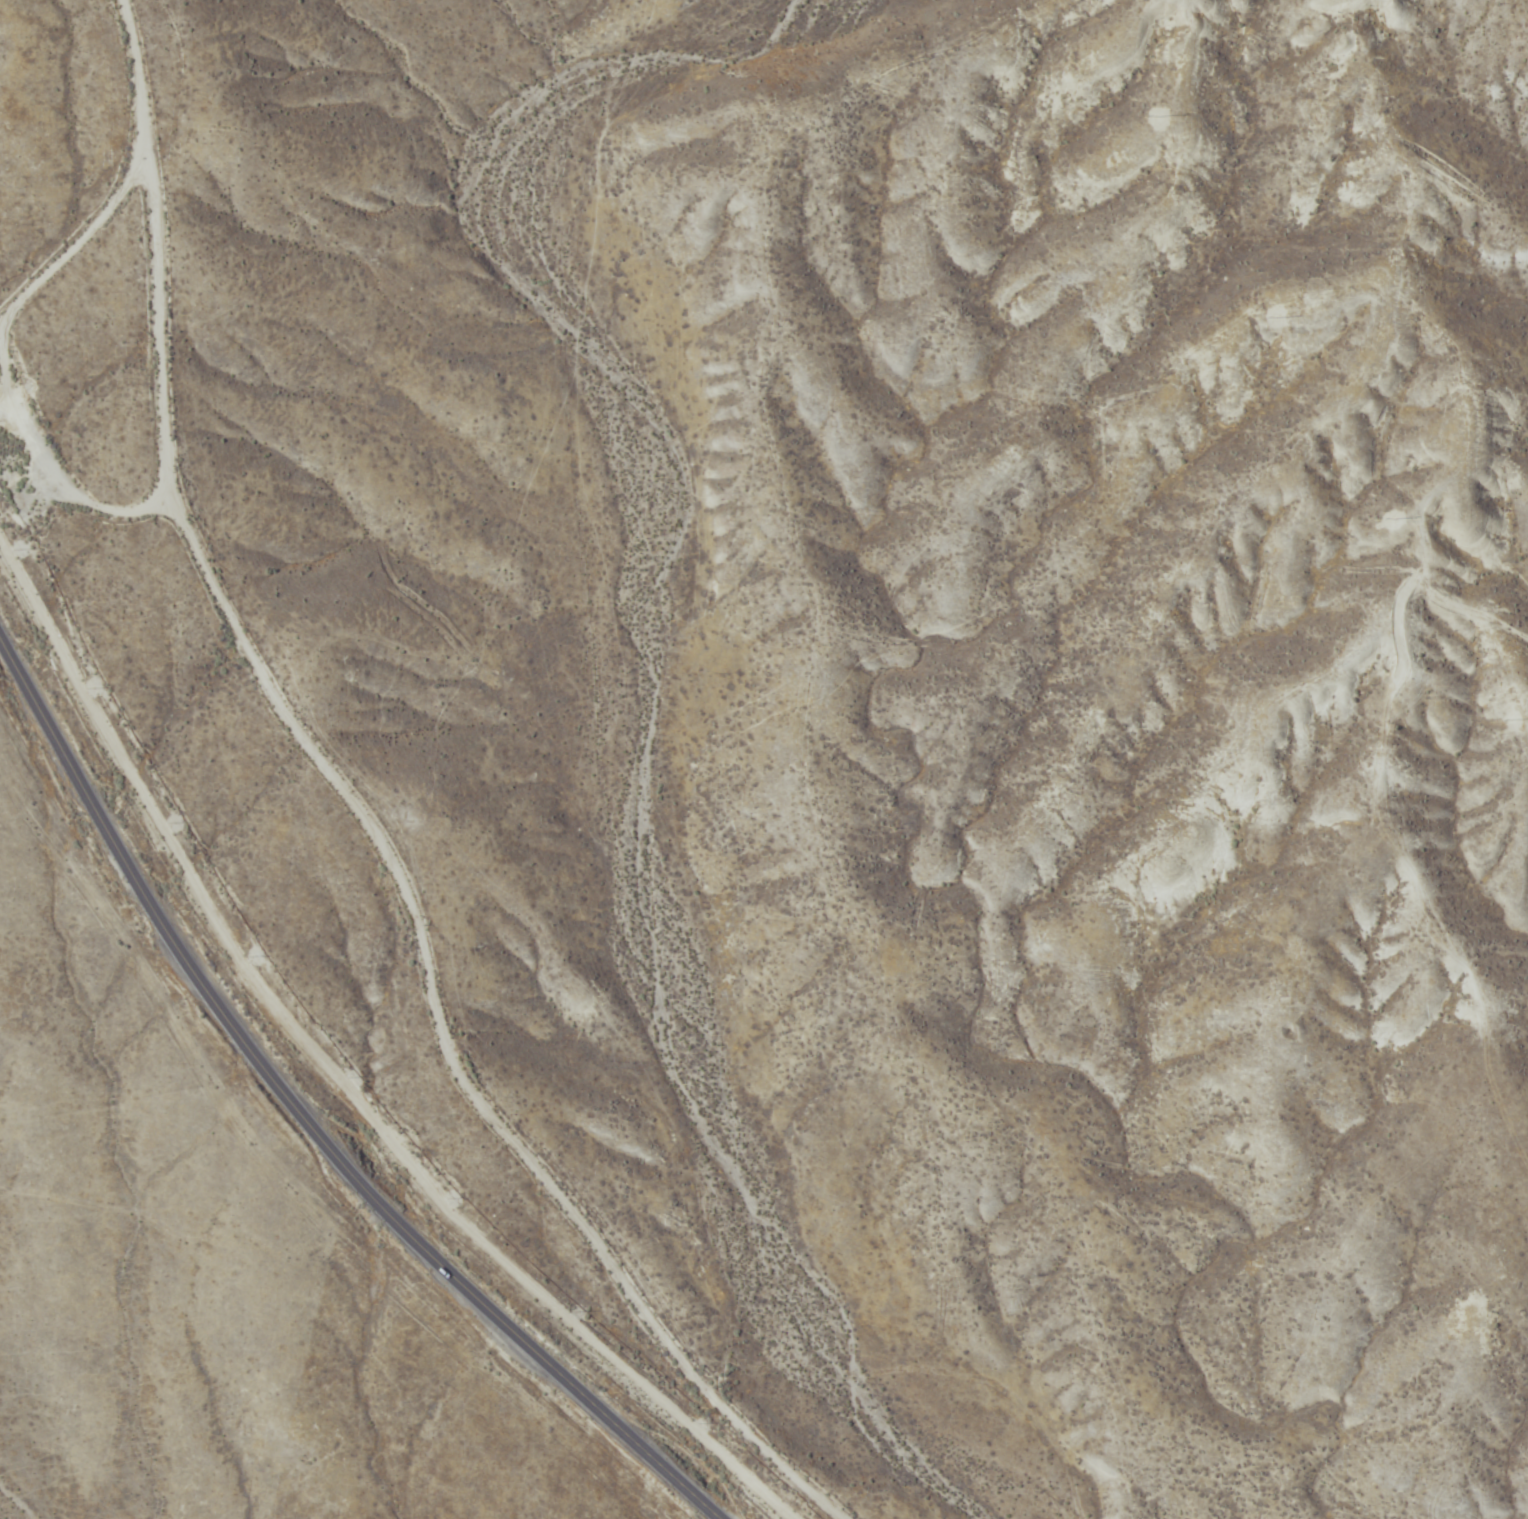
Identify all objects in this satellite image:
road: (334, 1095)

